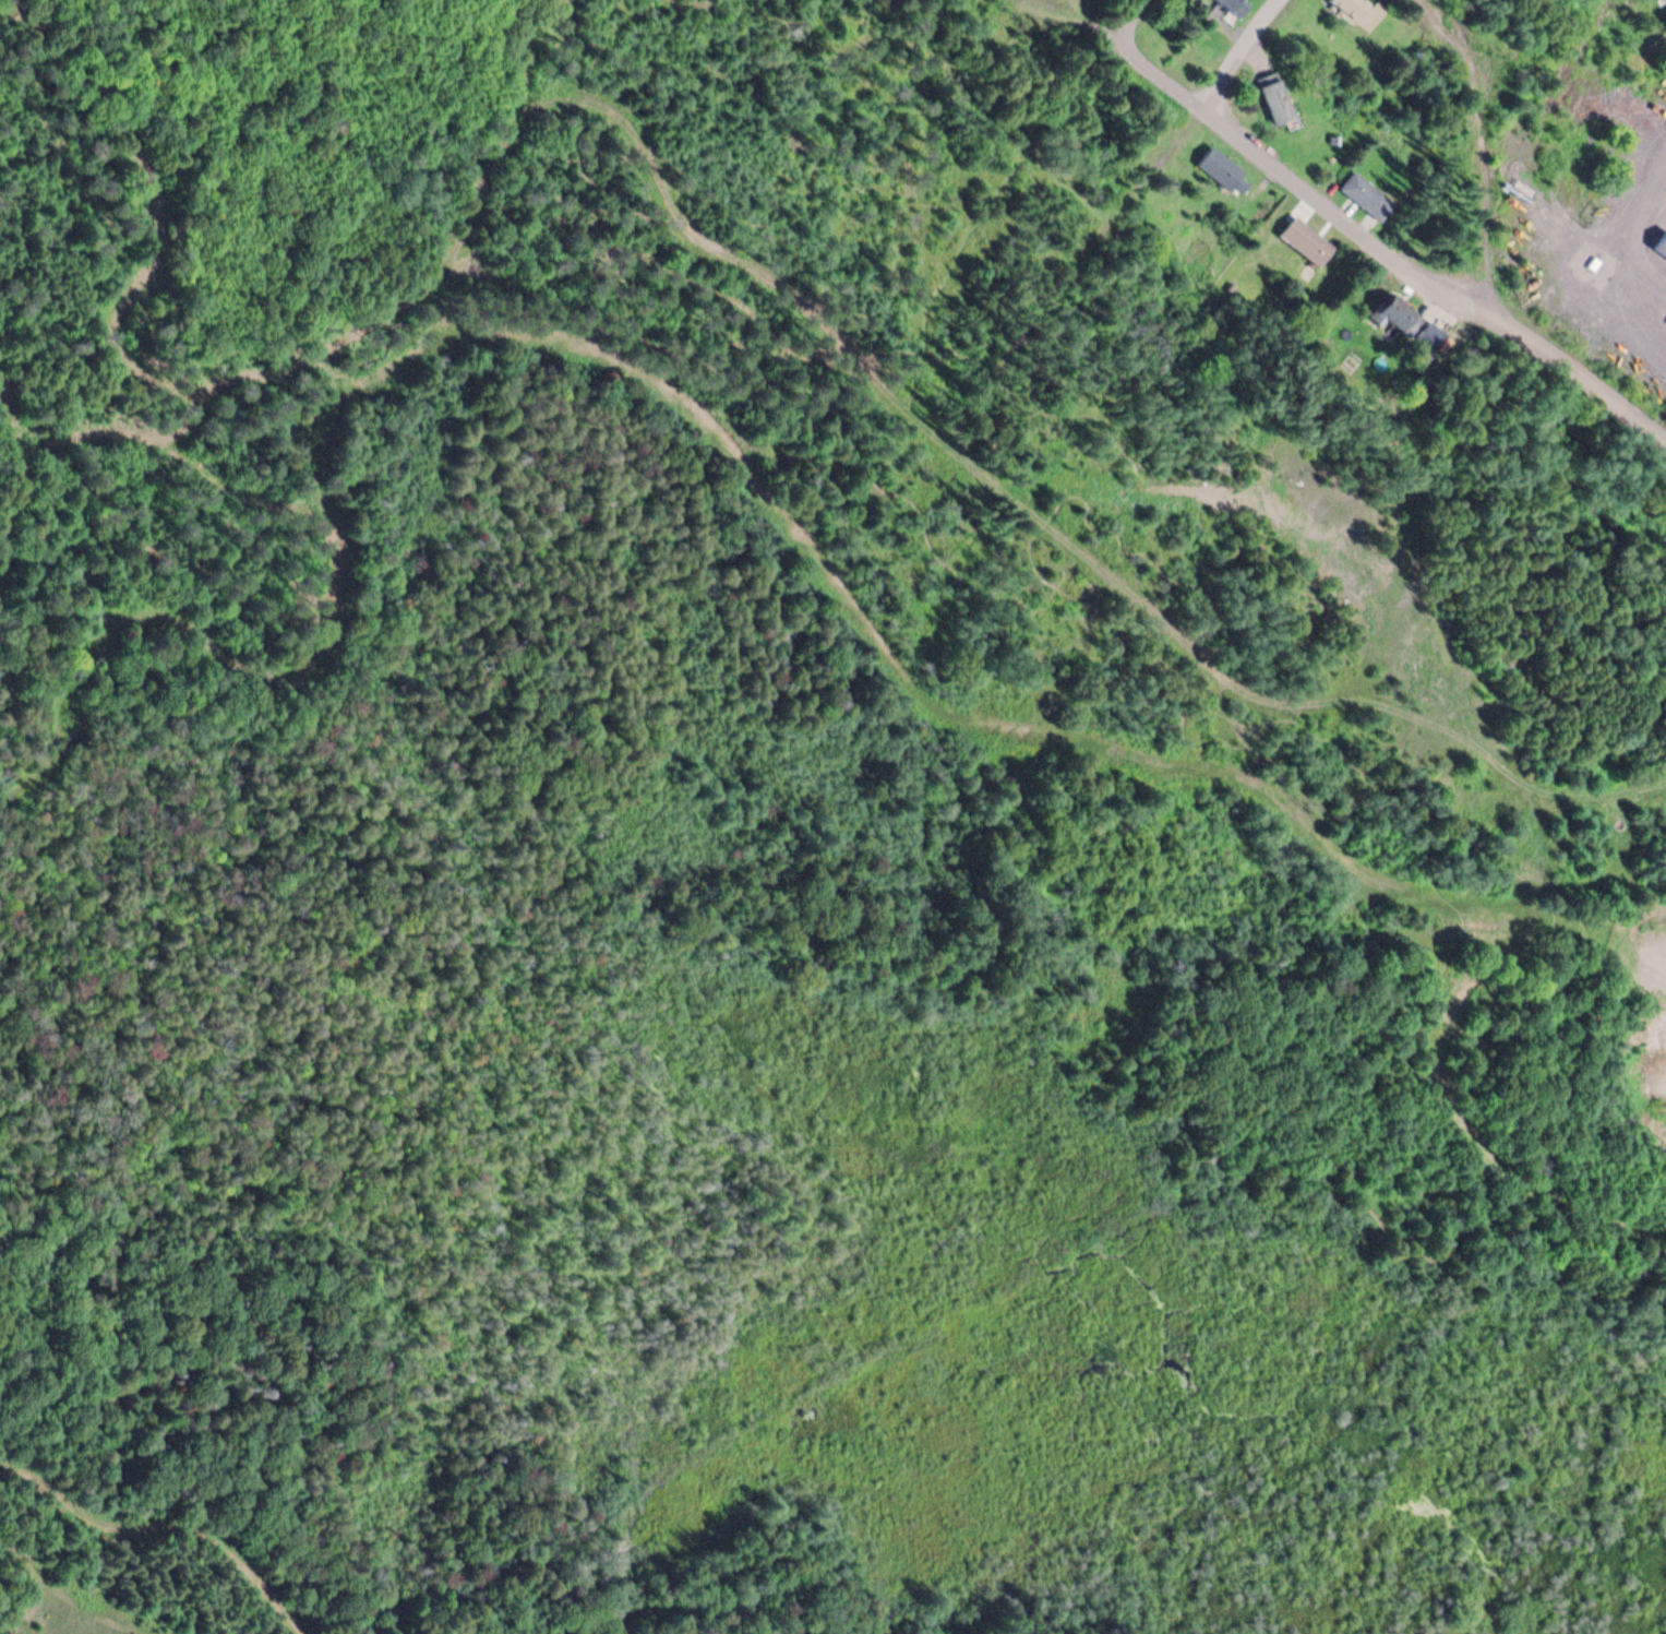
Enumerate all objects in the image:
building: (1235, 7)
building: (1361, 11)
road: (1251, 51)
building: (1277, 100)
building: (1224, 171)
building: (1366, 196)
road: (1645, 228)
road: (1378, 234)
building: (1306, 241)
building: (1661, 244)
road: (448, 288)
building: (1411, 325)
road: (1036, 517)
road: (960, 720)
road: (1597, 801)
road: (256, 1448)
road: (169, 1517)
road: (87, 1574)
road: (64, 1596)

